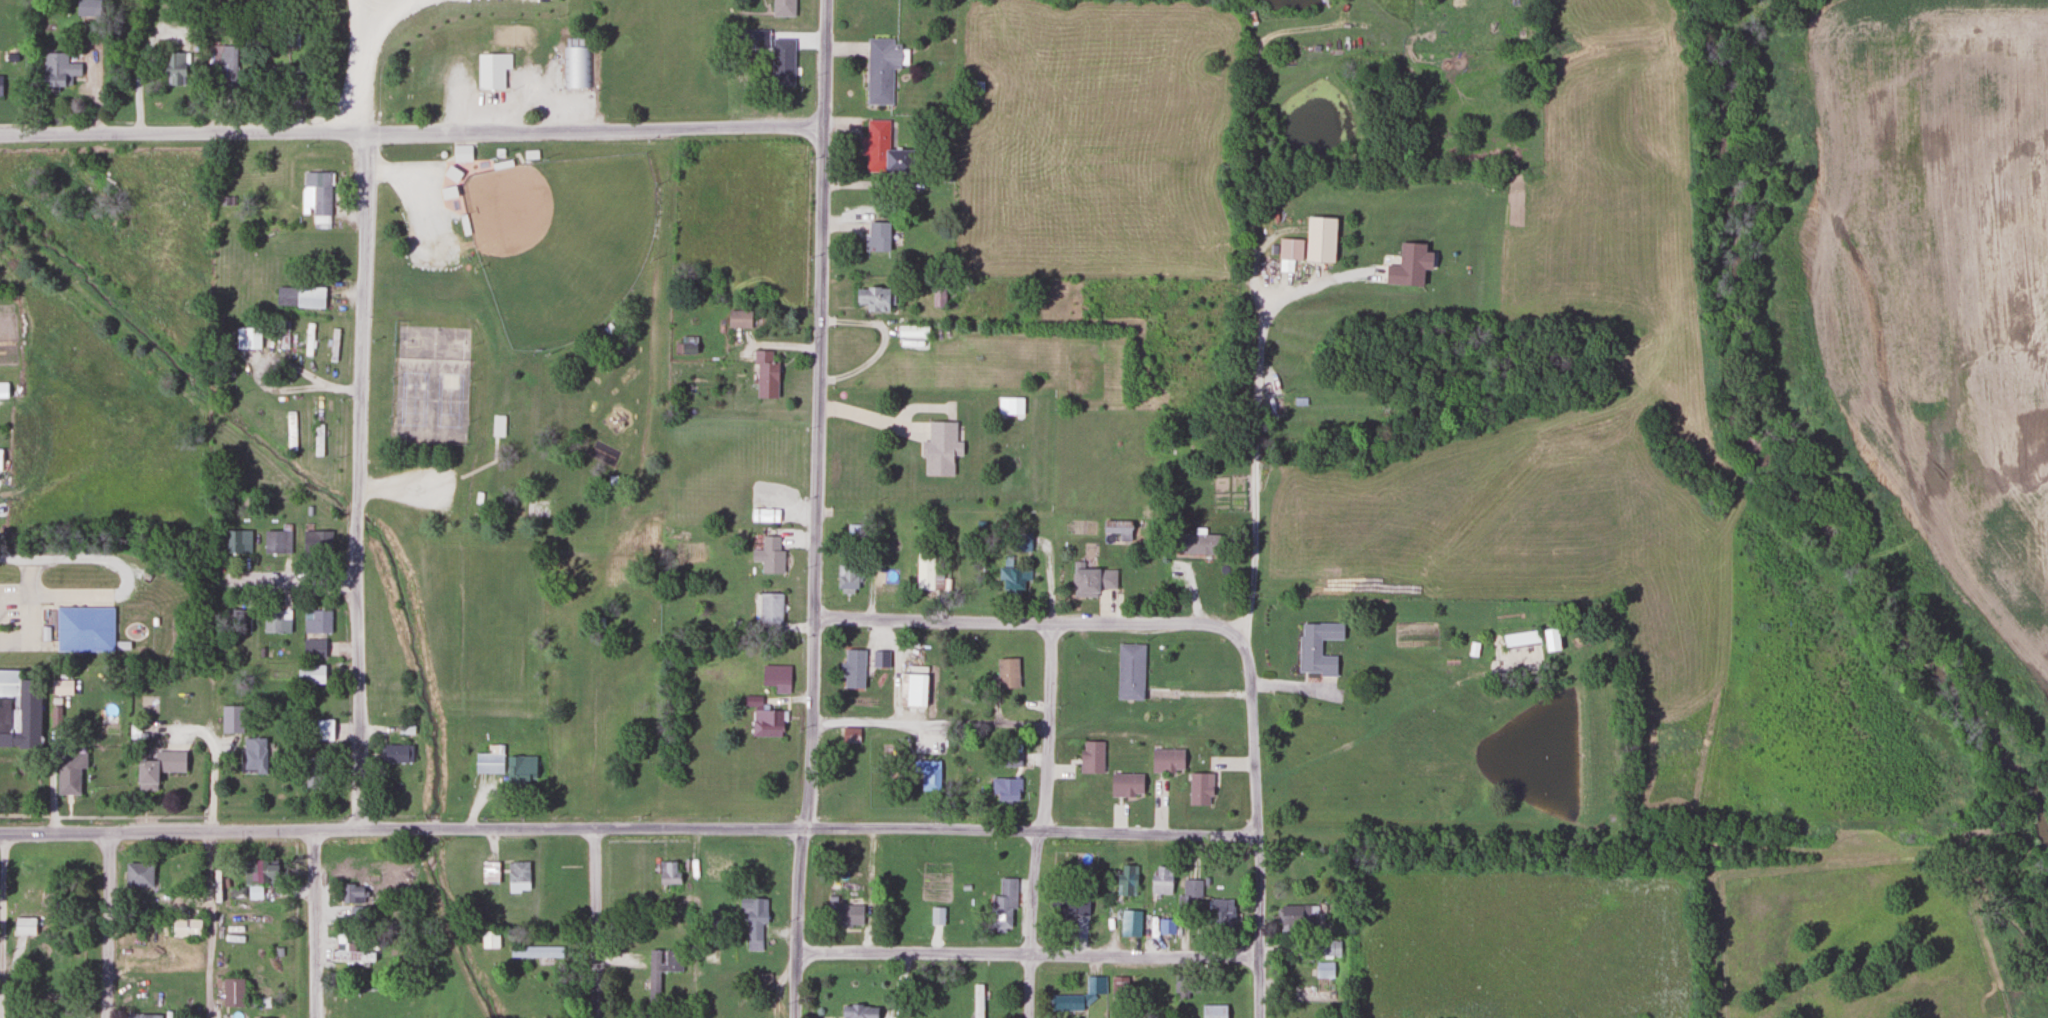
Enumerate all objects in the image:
building: (783, 7)
building: (91, 8)
building: (745, 38)
building: (782, 61)
building: (226, 63)
building: (174, 67)
building: (576, 67)
building: (57, 69)
building: (881, 69)
building: (492, 70)
building: (285, 81)
building: (1, 84)
road: (410, 132)
building: (883, 150)
building: (461, 153)
building: (317, 197)
building: (876, 236)
building: (1319, 238)
park: (559, 239)
building: (1290, 248)
building: (299, 297)
building: (874, 298)
building: (739, 318)
road: (303, 323)
park: (520, 331)
building: (284, 335)
park: (435, 336)
building: (251, 337)
building: (309, 339)
building: (334, 345)
building: (687, 345)
building: (765, 375)
building: (3, 390)
park: (433, 393)
building: (1014, 406)
building: (498, 426)
building: (291, 431)
building: (318, 433)
building: (939, 449)
road: (1254, 454)
building: (0, 459)
road: (361, 480)
building: (483, 496)
road: (814, 509)
building: (536, 512)
building: (764, 516)
building: (1118, 529)
building: (316, 540)
building: (277, 541)
building: (1019, 543)
building: (237, 544)
building: (769, 555)
building: (927, 575)
building: (1211, 577)
building: (846, 579)
building: (1011, 581)
building: (1091, 582)
building: (770, 608)
building: (276, 621)
building: (316, 621)
road: (1028, 622)
building: (86, 627)
building: (1520, 639)
road: (218, 648)
building: (313, 648)
building: (1316, 648)
building: (881, 660)
building: (853, 669)
building: (1129, 672)
building: (310, 674)
building: (1006, 674)
building: (776, 678)
building: (913, 691)
building: (19, 708)
building: (231, 719)
road: (931, 721)
building: (766, 723)
building: (324, 730)
building: (850, 736)
building: (397, 754)
building: (254, 755)
building: (1091, 758)
building: (1011, 760)
building: (490, 761)
building: (1166, 761)
building: (157, 769)
building: (520, 772)
building: (68, 774)
building: (928, 775)
building: (1125, 785)
building: (1005, 789)
building: (1199, 789)
road: (1044, 820)
road: (628, 826)
road: (1255, 828)
building: (137, 875)
building: (259, 875)
building: (551, 876)
building: (518, 877)
building: (668, 878)
building: (1160, 881)
building: (1126, 882)
building: (1189, 892)
building: (351, 894)
building: (1002, 906)
building: (1068, 906)
building: (1220, 915)
building: (848, 916)
building: (1289, 917)
road: (597, 922)
building: (754, 922)
road: (314, 923)
road: (210, 924)
building: (1129, 924)
road: (2, 926)
building: (24, 926)
road: (108, 926)
building: (1166, 927)
building: (185, 928)
building: (489, 940)
building: (1327, 948)
building: (537, 951)
road: (1027, 952)
building: (351, 956)
building: (660, 969)
building: (1324, 970)
building: (760, 983)
building: (1095, 988)
building: (1119, 988)
building: (49, 992)
building: (232, 993)
building: (977, 1001)
building: (1066, 1003)
building: (1213, 1011)
building: (858, 1012)
building: (141, 1016)

